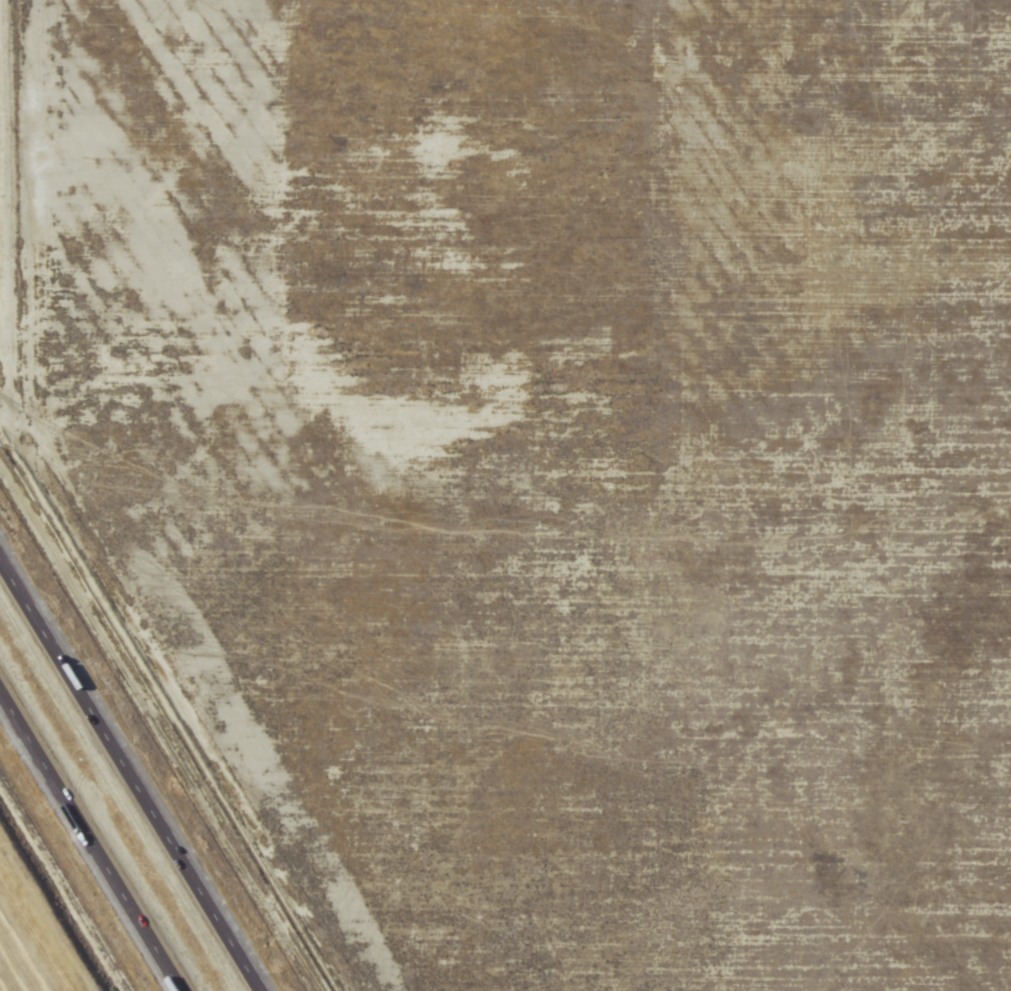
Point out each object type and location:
road: (132, 772)
road: (91, 840)

